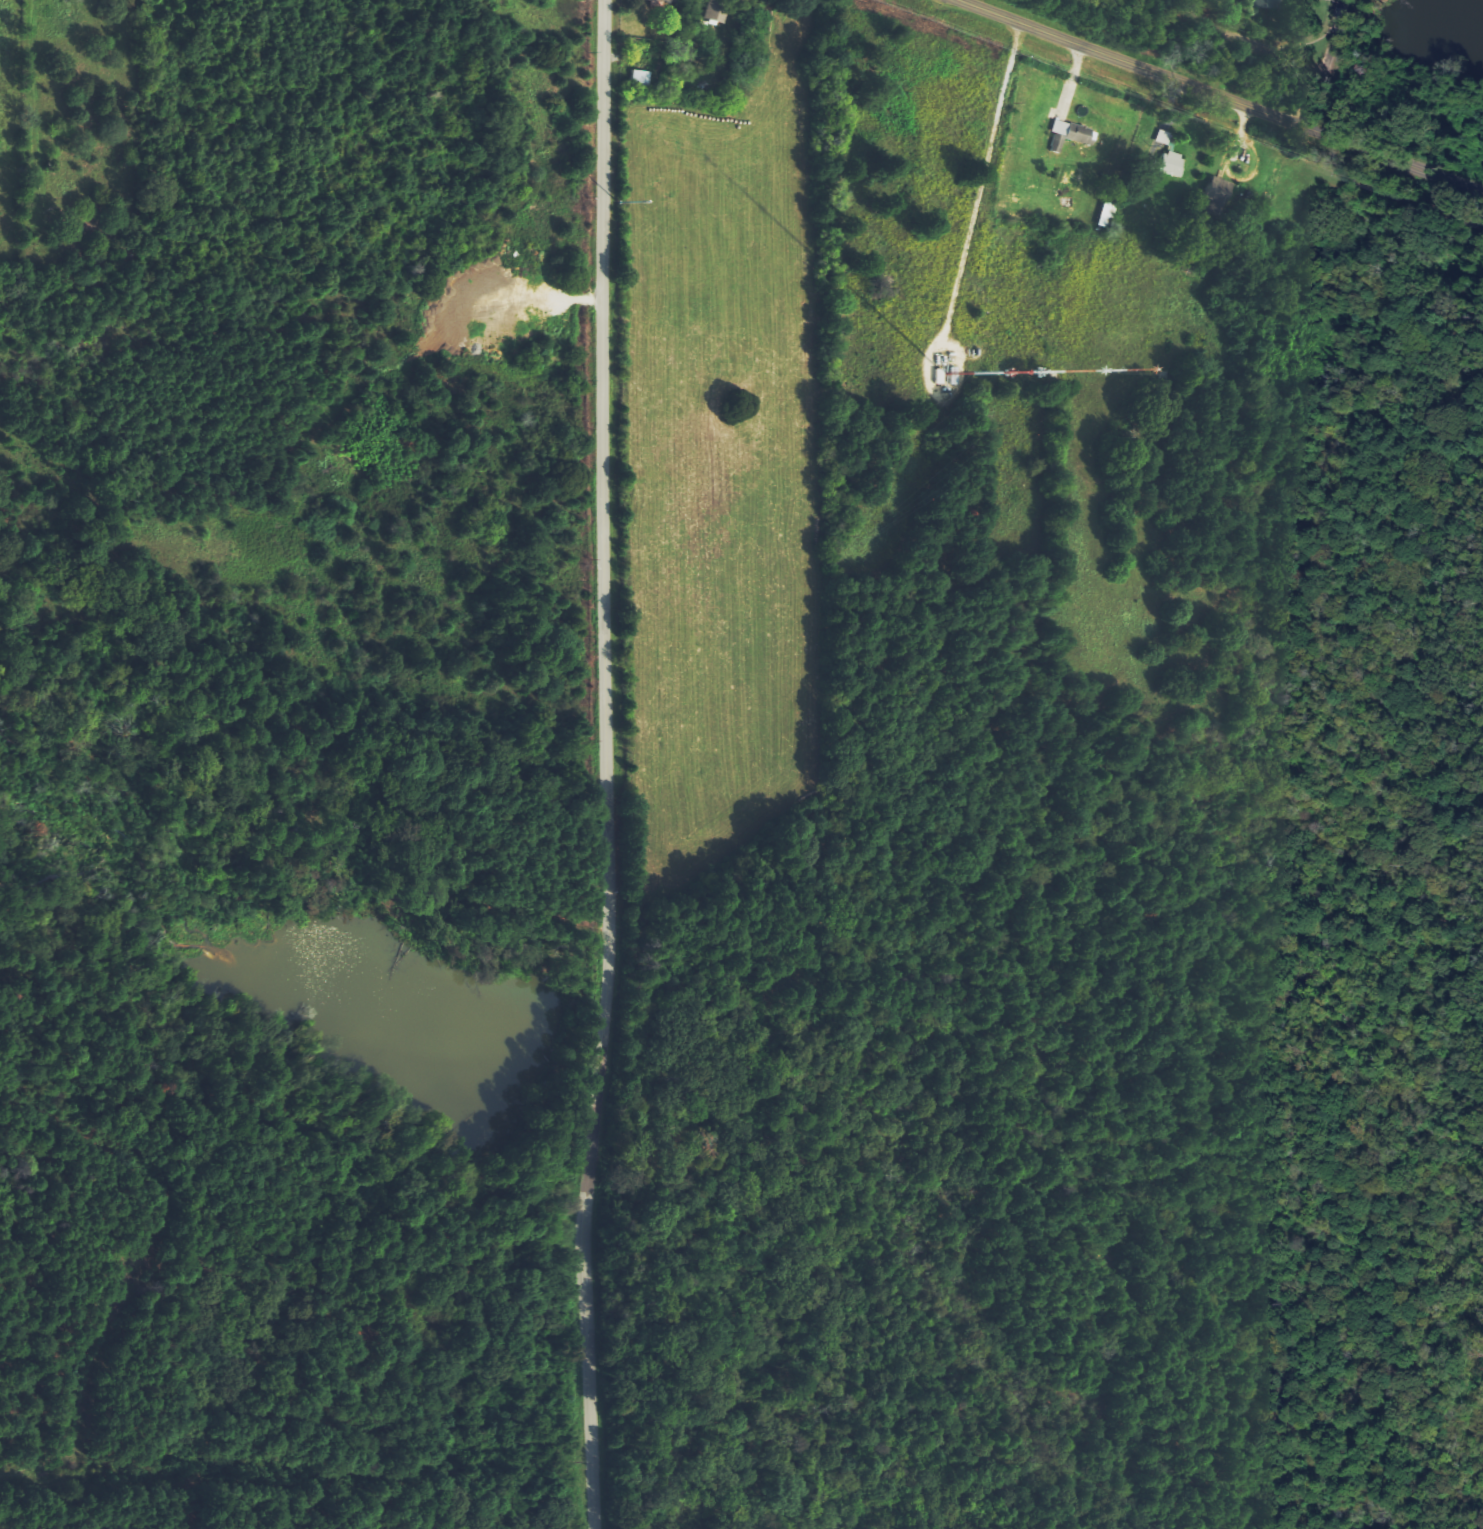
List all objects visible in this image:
building: (662, 0)
building: (1265, 4)
building: (718, 10)
road: (1244, 47)
road: (1327, 63)
road: (1220, 95)
building: (1069, 134)
building: (1164, 137)
building: (1172, 163)
building: (1219, 195)
road: (609, 765)

